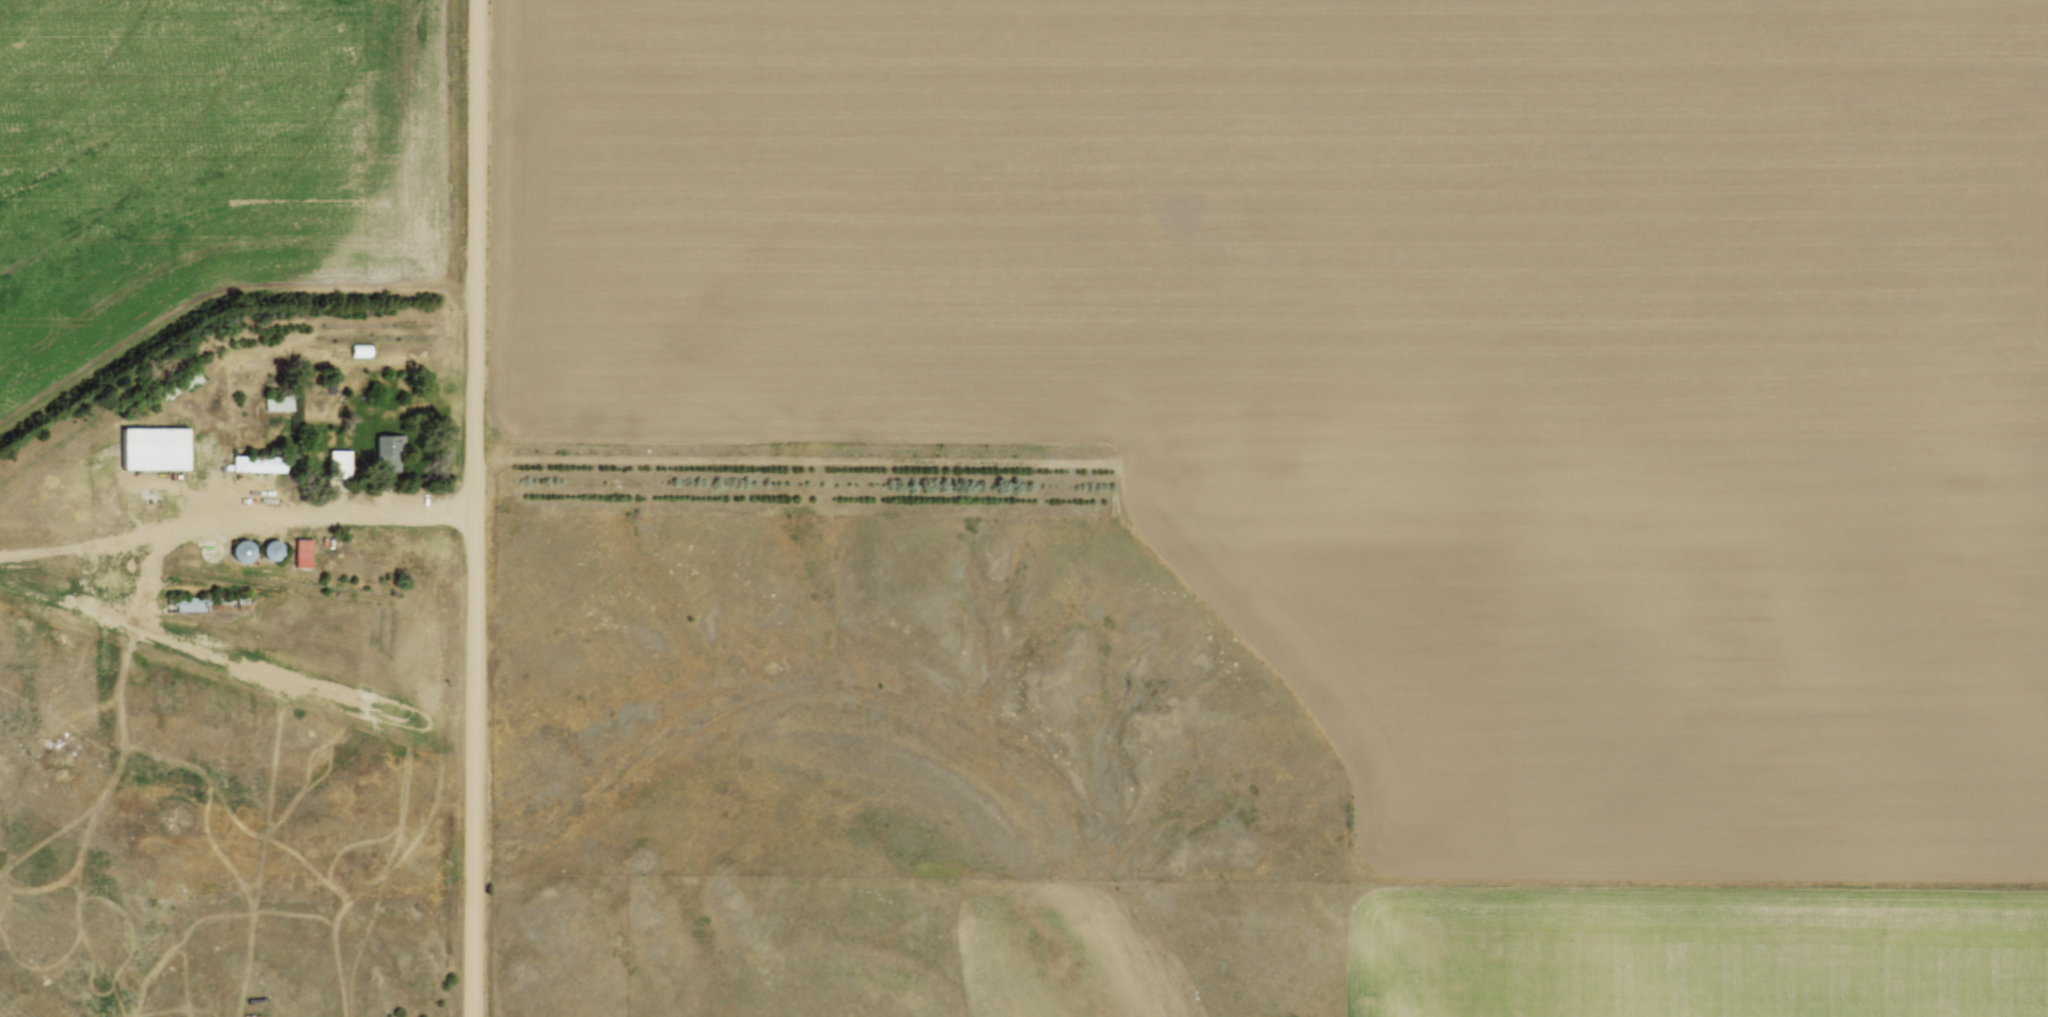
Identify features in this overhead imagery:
crop: (205, 159)
building: (279, 400)
crop: (1421, 413)
building: (155, 449)
building: (387, 451)
building: (259, 461)
building: (340, 464)
road: (476, 508)
road: (236, 517)
building: (242, 550)
silo: (242, 550)
building: (271, 550)
silo: (271, 550)
building: (210, 602)

